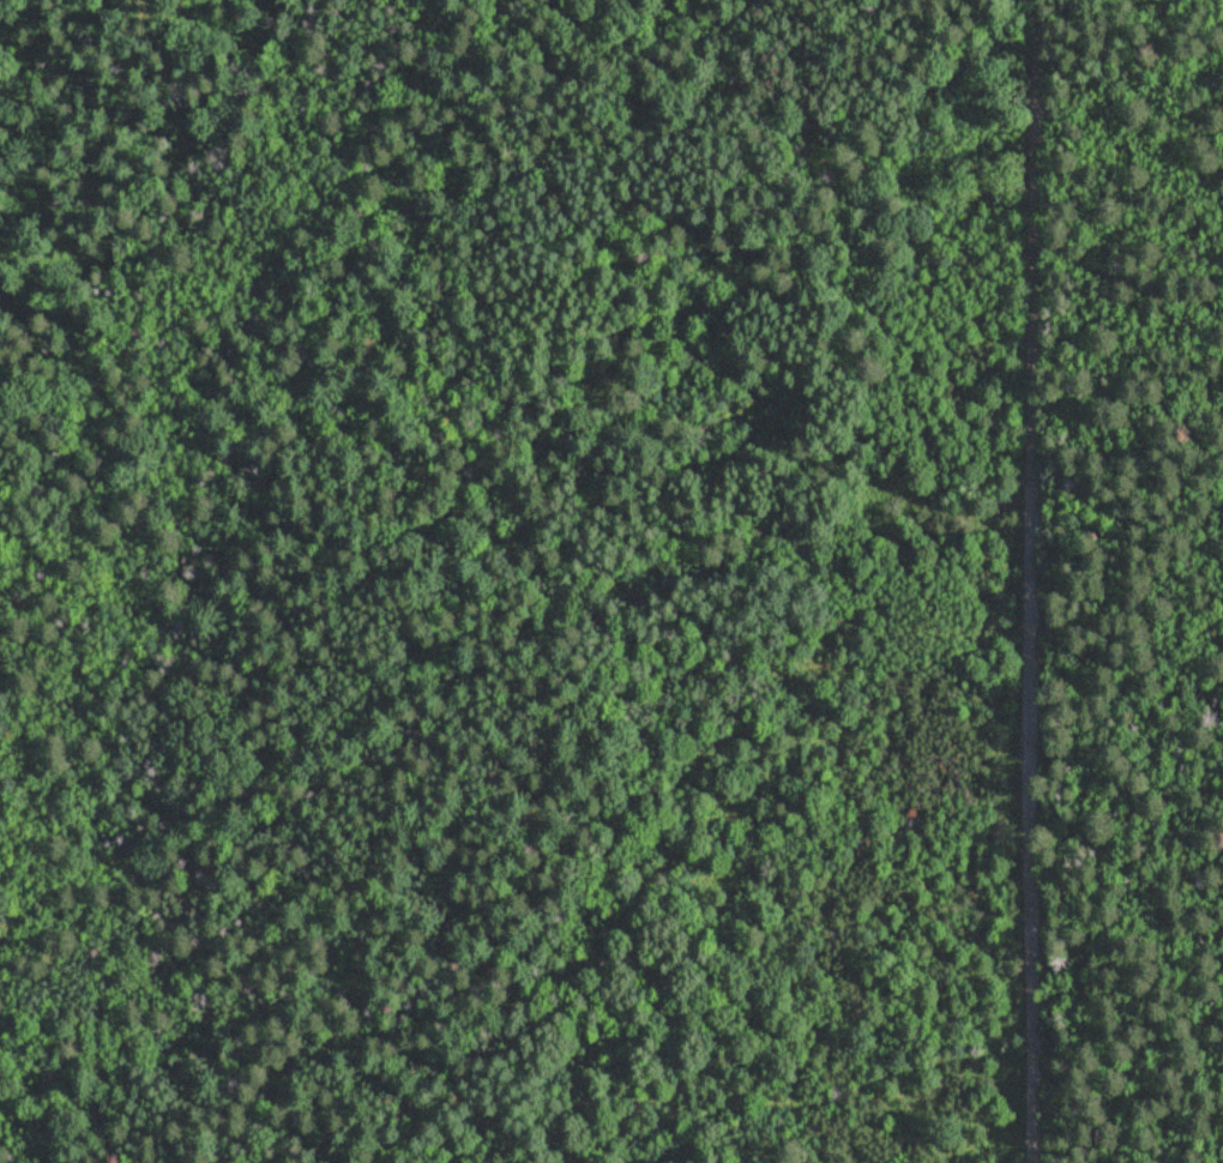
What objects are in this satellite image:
road: (1032, 581)

